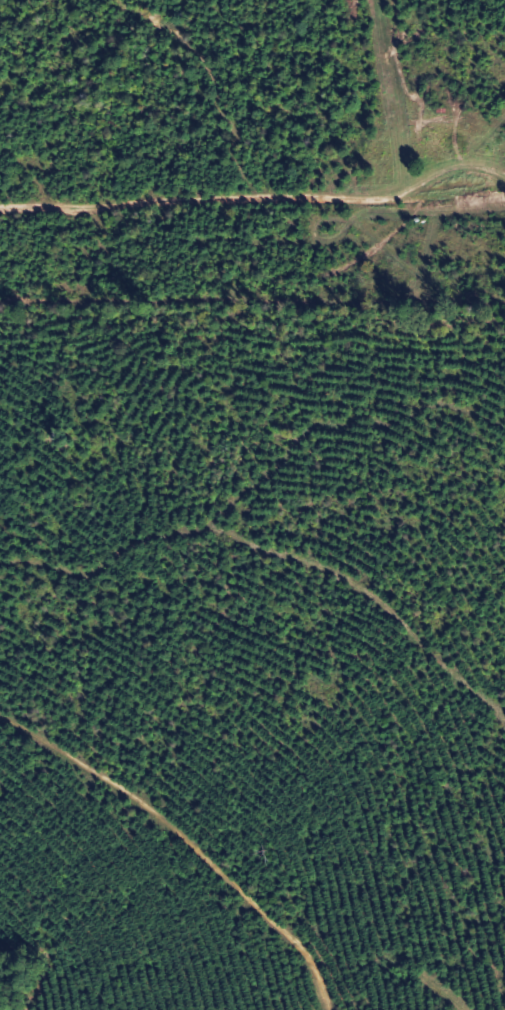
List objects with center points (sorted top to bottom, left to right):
road: (187, 840)

